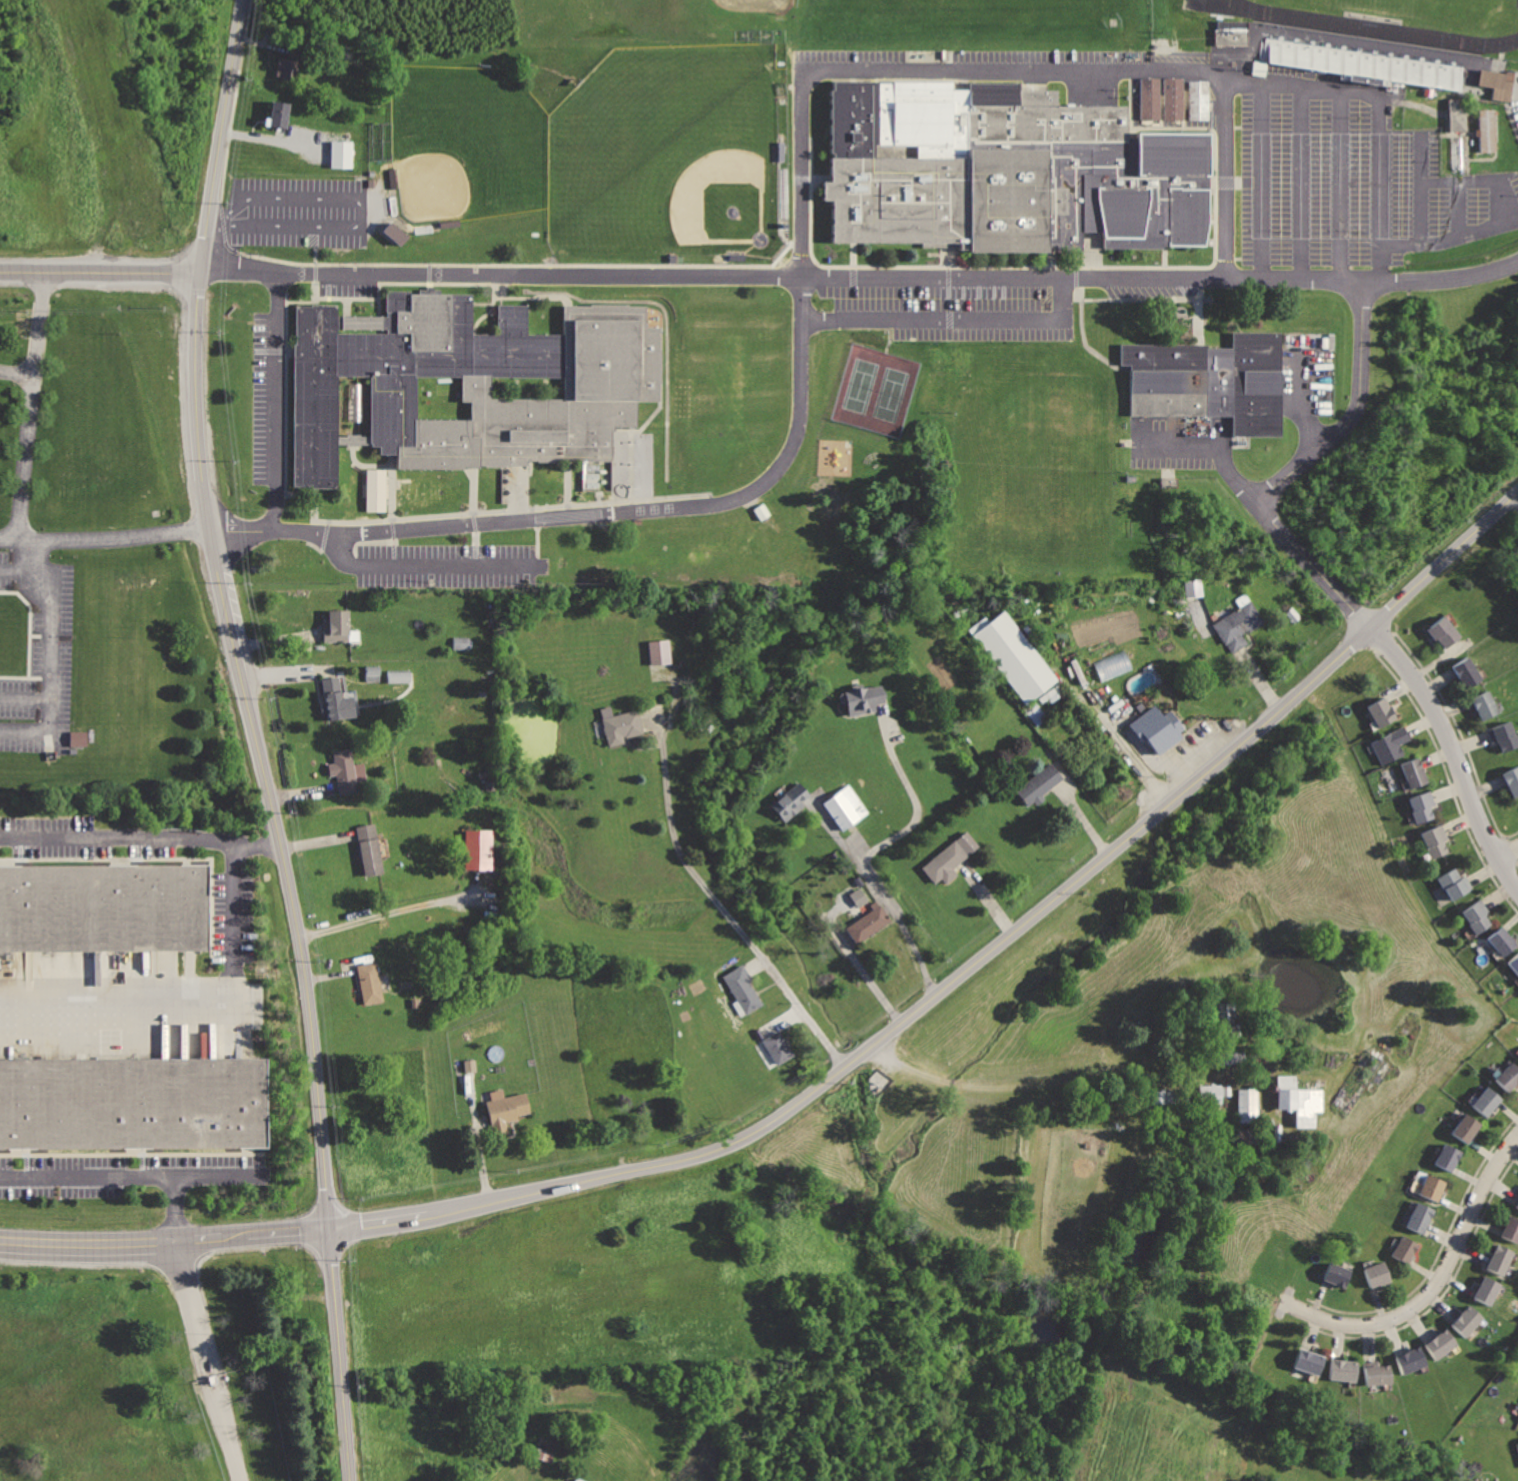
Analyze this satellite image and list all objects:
park: (696, 6)
track: (1226, 7)
park: (946, 11)
park: (1436, 11)
track: (1376, 28)
building: (1233, 34)
parking lot: (979, 62)
building: (1363, 62)
building: (1258, 65)
building: (288, 68)
road: (815, 72)
road: (1129, 74)
building: (1492, 80)
building: (1149, 97)
building: (1172, 97)
building: (1198, 99)
road: (1205, 103)
parking lot: (1514, 111)
building: (279, 114)
building: (1457, 117)
road: (1129, 130)
building: (1487, 130)
road: (223, 136)
park: (470, 136)
road: (275, 140)
park: (659, 145)
building: (343, 153)
building: (1458, 154)
building: (1005, 168)
road: (1225, 175)
road: (1261, 178)
road: (1251, 179)
road: (1210, 180)
road: (1223, 180)
parking lot: (1341, 181)
road: (1300, 182)
road: (1339, 186)
road: (1419, 186)
road: (1378, 188)
building: (782, 191)
road: (810, 197)
road: (359, 204)
road: (1457, 206)
parking lot: (298, 207)
road: (1501, 221)
building: (398, 226)
road: (223, 228)
road: (315, 234)
road: (796, 241)
road: (1090, 247)
road: (315, 252)
flagpole: (928, 252)
road: (851, 253)
road: (1163, 254)
road: (947, 255)
road: (1050, 256)
road: (808, 260)
road: (518, 262)
road: (1146, 265)
road: (314, 270)
road: (1090, 271)
road: (100, 272)
road: (851, 274)
road: (947, 274)
road: (1074, 275)
road: (861, 276)
road: (398, 281)
parking lot: (345, 284)
road: (962, 286)
road: (977, 286)
road: (993, 286)
road: (1002, 286)
parking lot: (1152, 287)
road: (947, 289)
road: (314, 290)
road: (535, 295)
road: (1139, 296)
road: (299, 299)
flagpole: (372, 303)
road: (481, 303)
road: (344, 305)
road: (377, 305)
parking lot: (940, 305)
road: (488, 308)
road: (1198, 309)
road: (949, 316)
road: (948, 317)
road: (889, 327)
road: (1083, 339)
road: (887, 344)
road: (269, 348)
parking lot: (1305, 371)
road: (19, 373)
building: (1207, 378)
building: (19, 380)
building: (467, 380)
park: (735, 385)
park: (874, 388)
road: (285, 391)
parking lot: (264, 396)
road: (1302, 399)
building: (354, 400)
road: (276, 401)
road: (630, 434)
parking lot: (1178, 439)
road: (1209, 445)
road: (364, 464)
park: (1054, 470)
road: (1290, 470)
road: (567, 481)
road: (391, 485)
building: (374, 488)
road: (472, 488)
road: (299, 492)
road: (516, 493)
road: (26, 500)
road: (314, 502)
road: (1514, 503)
road: (512, 507)
road: (567, 509)
building: (760, 511)
road: (473, 520)
road: (486, 521)
road: (537, 521)
road: (236, 526)
road: (391, 526)
road: (312, 529)
road: (323, 532)
road: (536, 534)
road: (475, 537)
road: (393, 539)
road: (375, 543)
road: (535, 549)
road: (393, 554)
road: (475, 554)
road: (535, 560)
parking lot: (451, 564)
road: (426, 565)
road: (17, 568)
building: (1192, 587)
building: (1239, 625)
building: (337, 626)
building: (1445, 632)
building: (462, 642)
road: (49, 643)
building: (658, 651)
building: (1015, 660)
building: (1112, 665)
building: (1468, 672)
building: (398, 676)
road: (24, 694)
building: (865, 698)
building: (337, 703)
building: (1486, 705)
building: (1383, 710)
building: (621, 727)
building: (1156, 727)
building: (1504, 735)
building: (77, 738)
building: (1390, 744)
road: (1453, 752)
building: (345, 772)
building: (1415, 775)
building: (1512, 780)
building: (1039, 785)
road: (913, 792)
building: (792, 801)
building: (1423, 805)
building: (845, 806)
road: (140, 835)
building: (1437, 840)
road: (1506, 848)
building: (369, 849)
building: (479, 849)
building: (949, 859)
road: (286, 873)
building: (1456, 885)
road: (885, 891)
road: (713, 895)
building: (857, 897)
building: (104, 909)
road: (402, 911)
building: (1477, 916)
building: (868, 924)
building: (1504, 940)
road: (758, 965)
building: (1514, 965)
building: (373, 980)
building: (743, 987)
road: (197, 1004)
road: (778, 1018)
building: (1227, 1018)
building: (779, 1048)
building: (1517, 1055)
building: (1231, 1057)
road: (847, 1066)
crop: (616, 1067)
building: (1509, 1077)
road: (1043, 1080)
building: (1225, 1090)
building: (1209, 1093)
building: (1162, 1096)
building: (1298, 1100)
building: (1487, 1101)
building: (133, 1105)
building: (1247, 1105)
building: (508, 1110)
building: (1465, 1128)
building: (1448, 1158)
road: (131, 1177)
building: (1433, 1188)
building: (1517, 1205)
road: (174, 1207)
building: (1420, 1218)
building: (1512, 1229)
building: (1406, 1250)
building: (1501, 1259)
building: (1378, 1272)
building: (1337, 1274)
road: (1437, 1280)
building: (1489, 1290)
road: (191, 1298)
building: (1467, 1321)
building: (1442, 1344)
building: (1411, 1360)
building: (1311, 1361)
building: (1343, 1371)
building: (1380, 1375)
road: (219, 1376)
road: (204, 1380)
road: (228, 1439)
building: (578, 1479)

